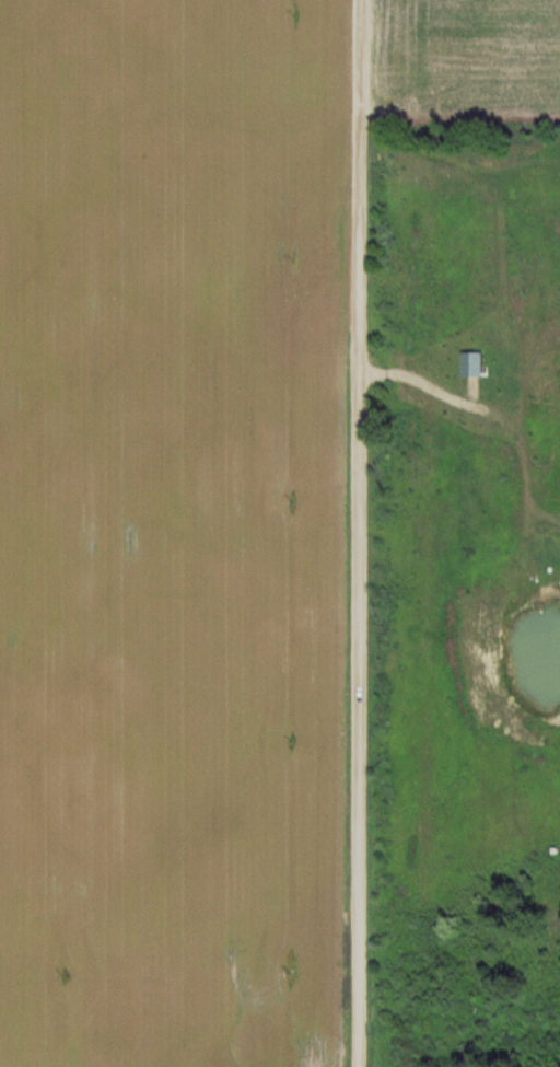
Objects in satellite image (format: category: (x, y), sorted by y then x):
road: (358, 533)

